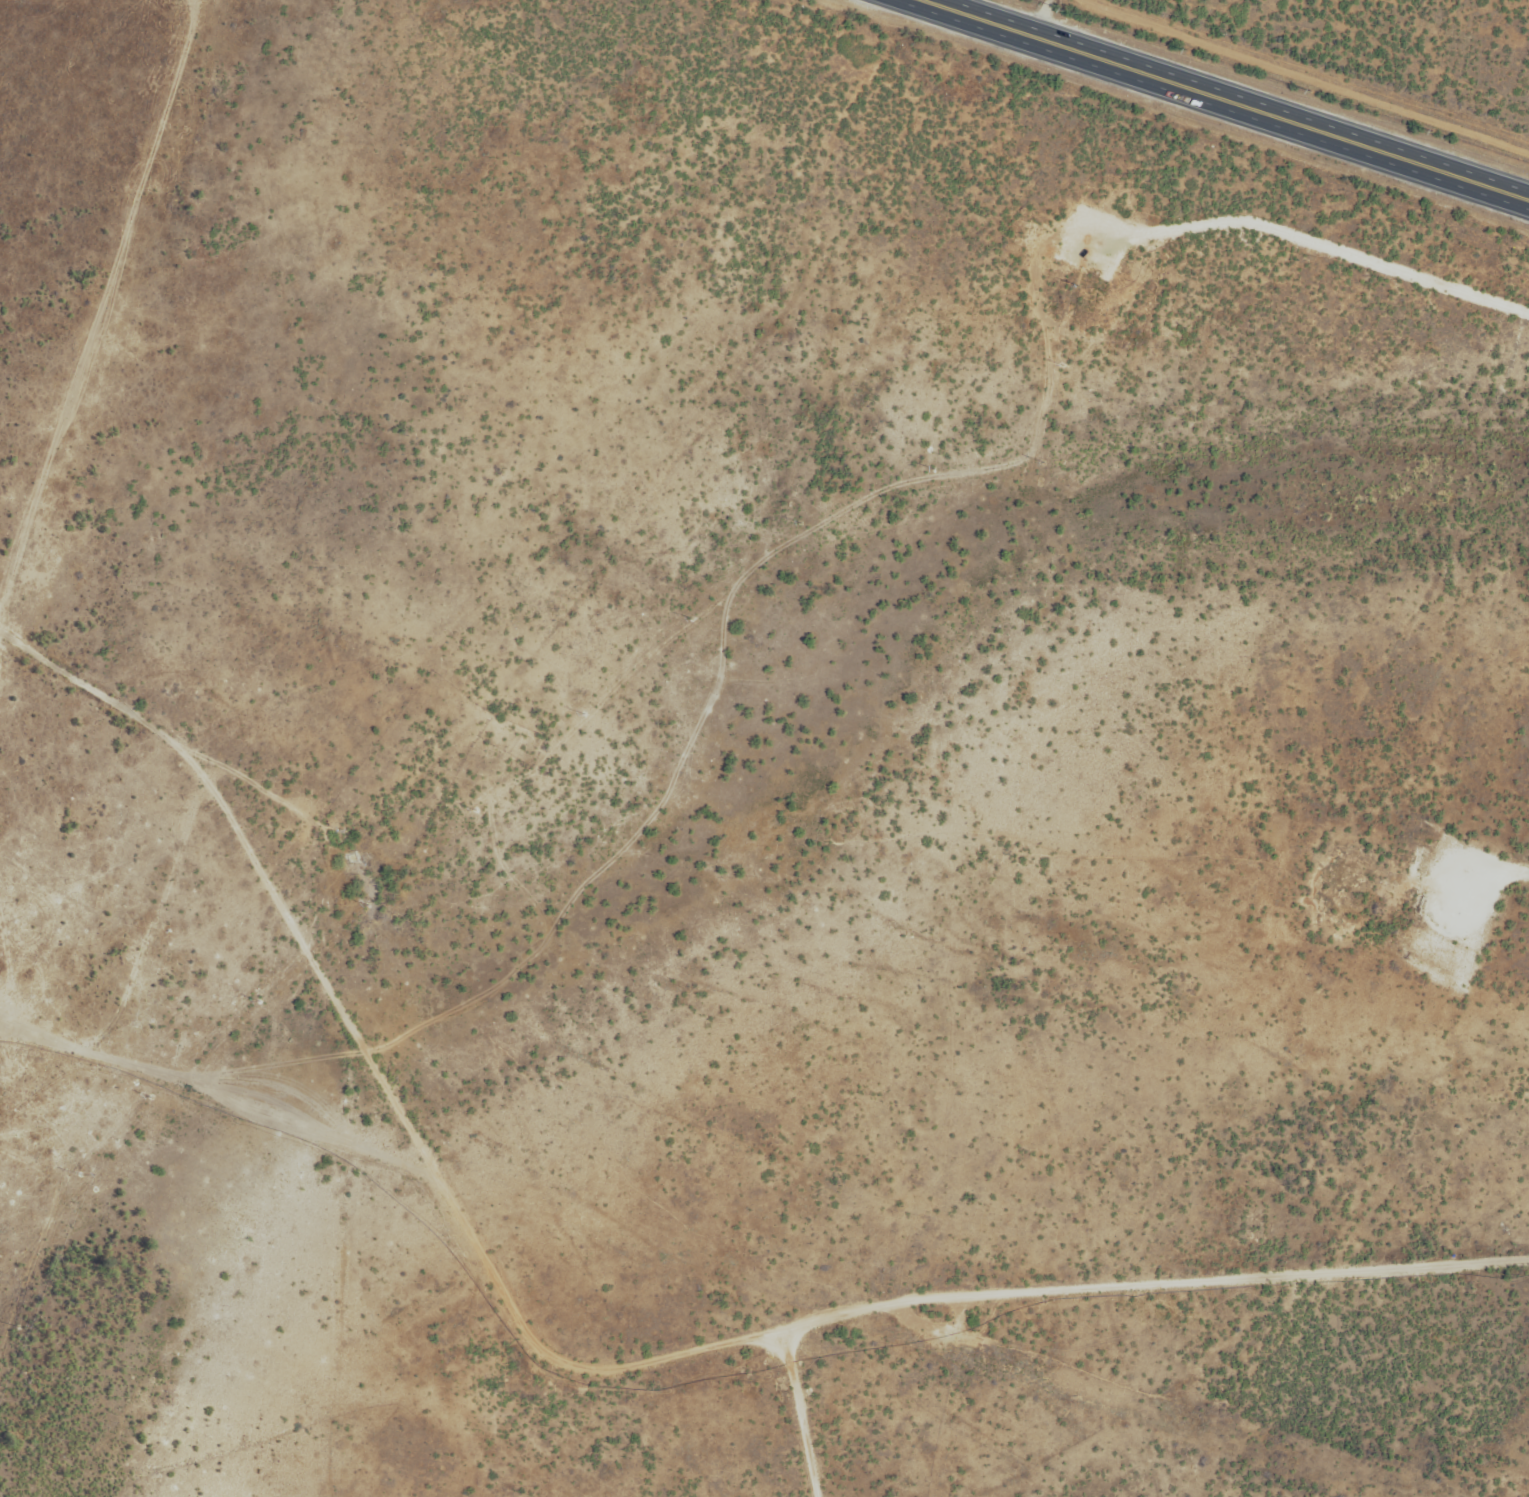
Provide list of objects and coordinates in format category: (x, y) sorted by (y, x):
road: (1221, 100)
road: (556, 731)

